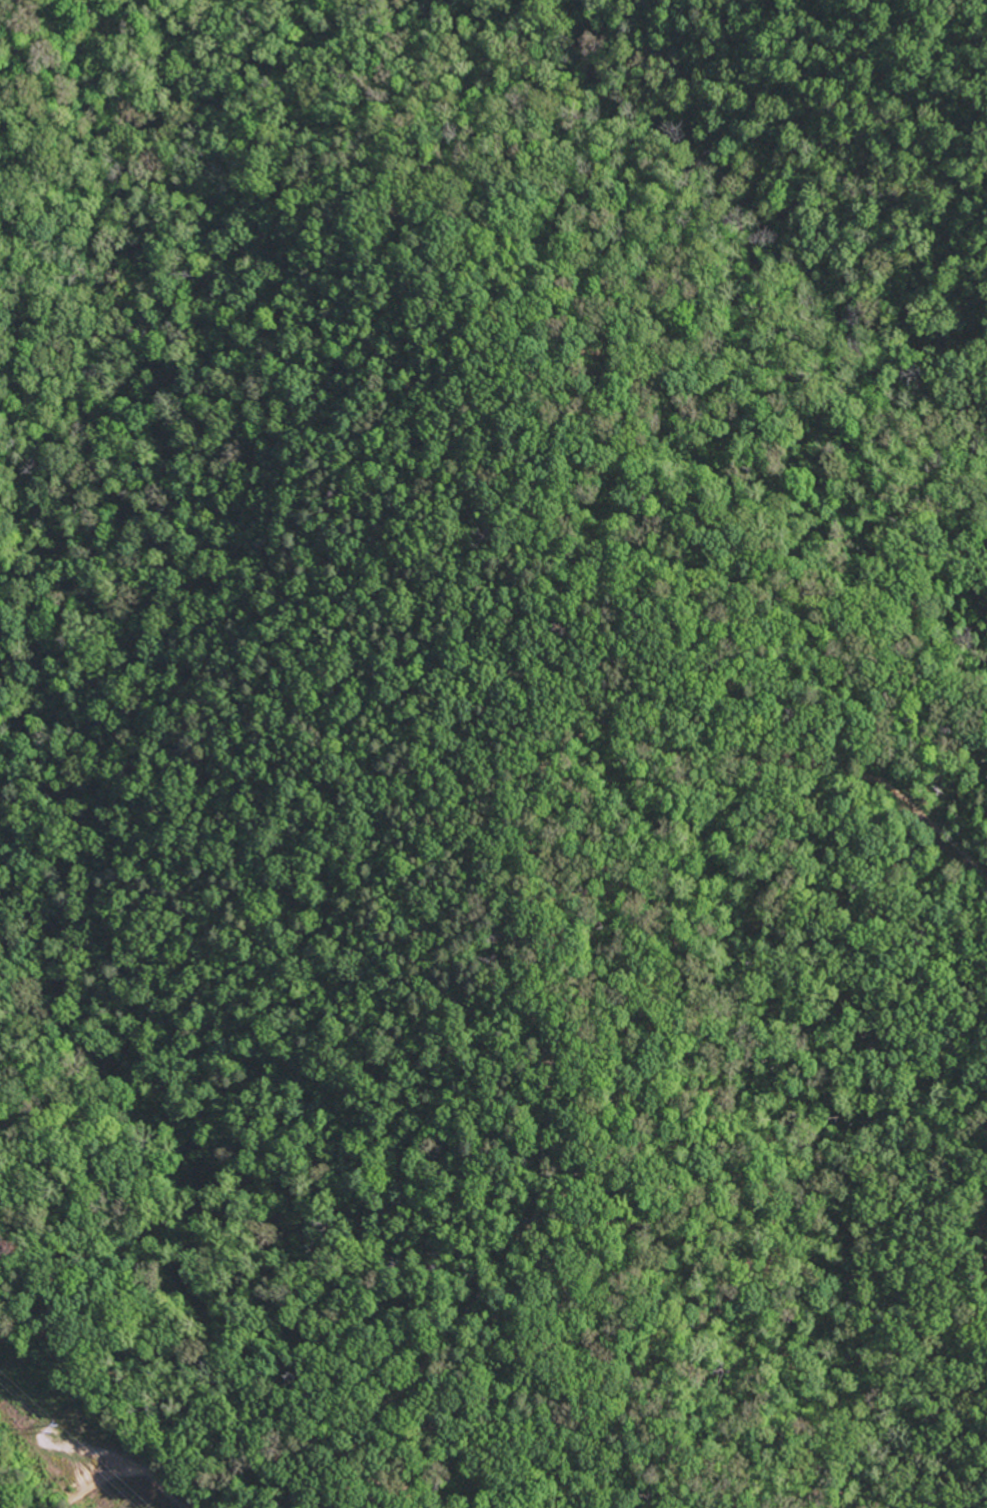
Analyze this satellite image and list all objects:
road: (543, 1028)
power tower: (50, 1427)

